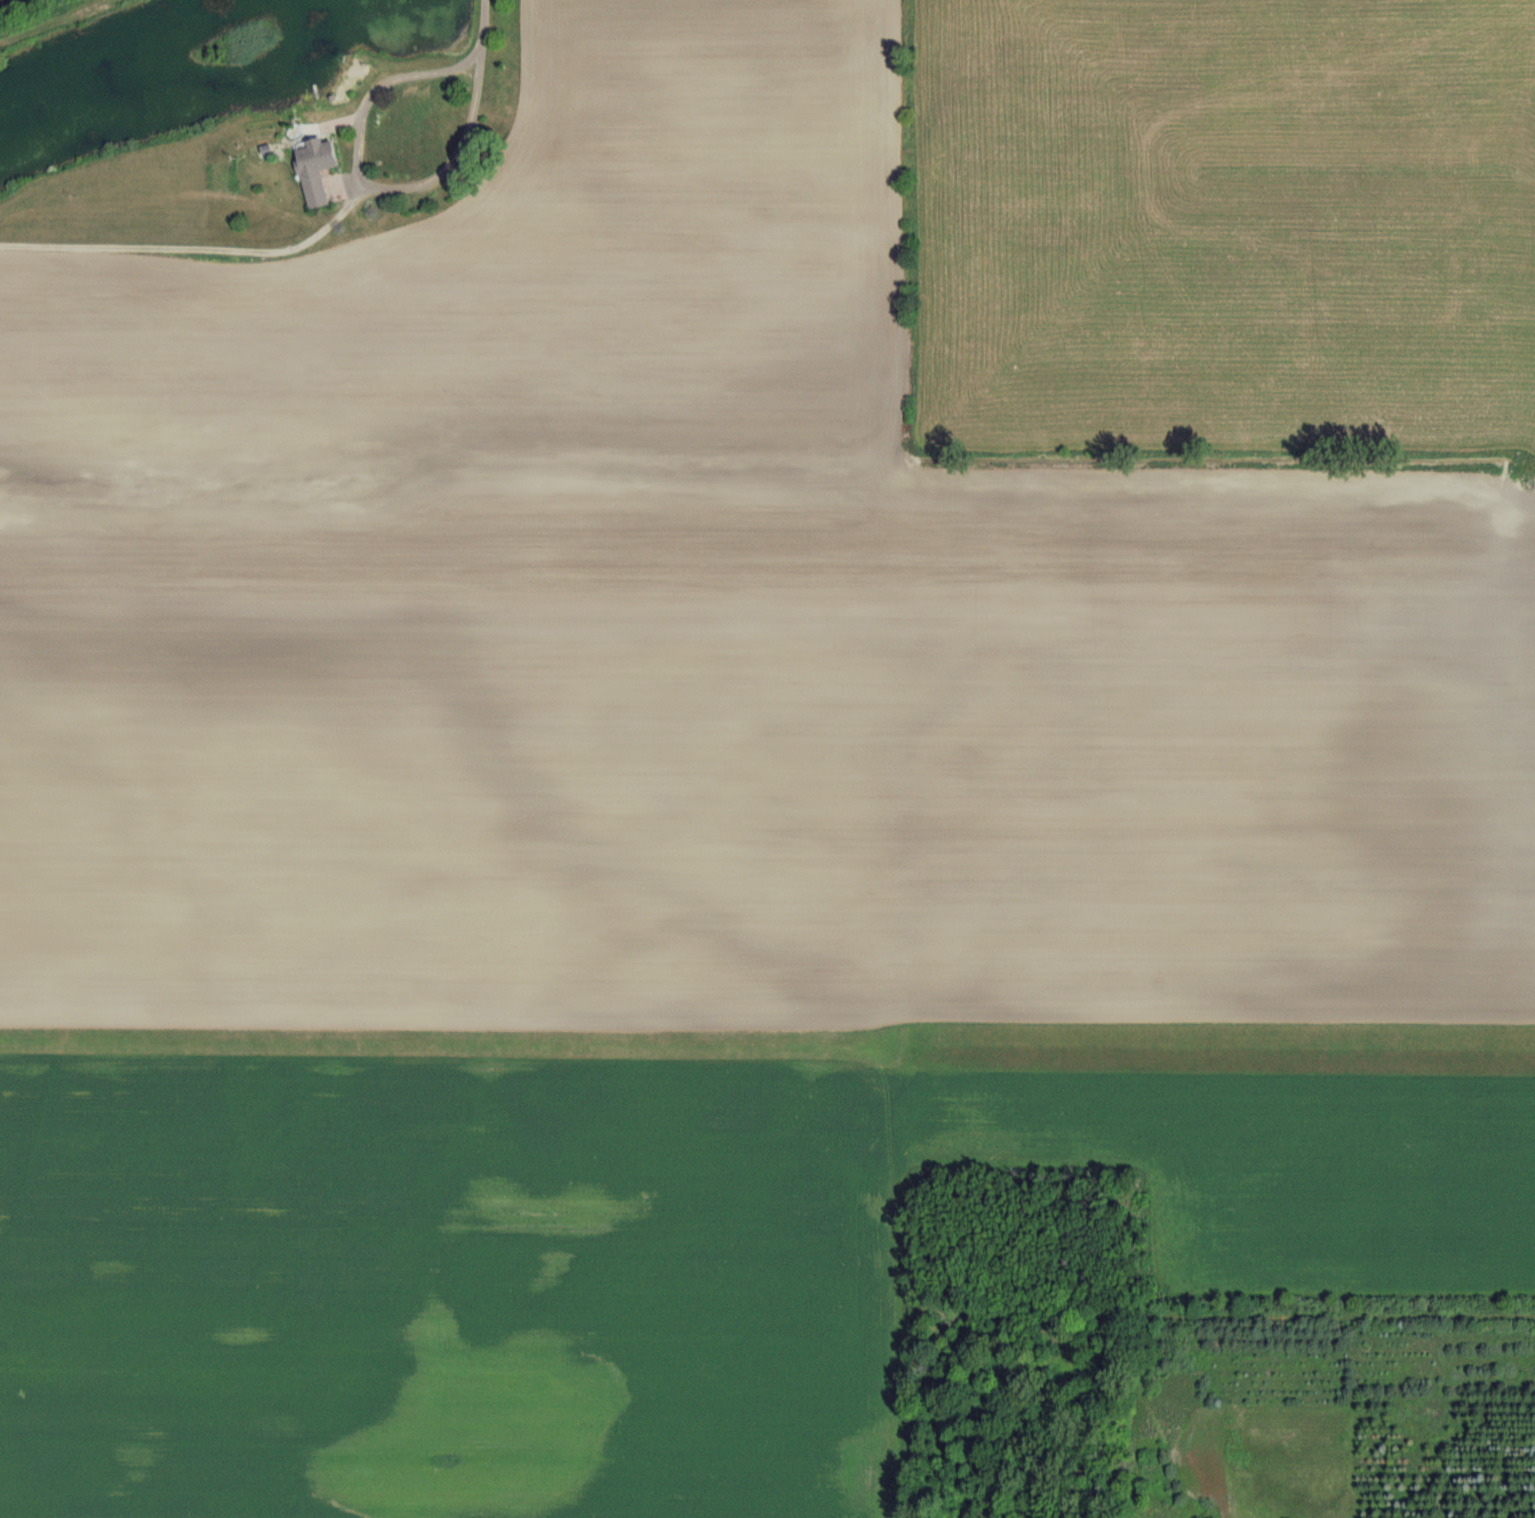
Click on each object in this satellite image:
road: (380, 80)
building: (317, 169)
road: (318, 229)

